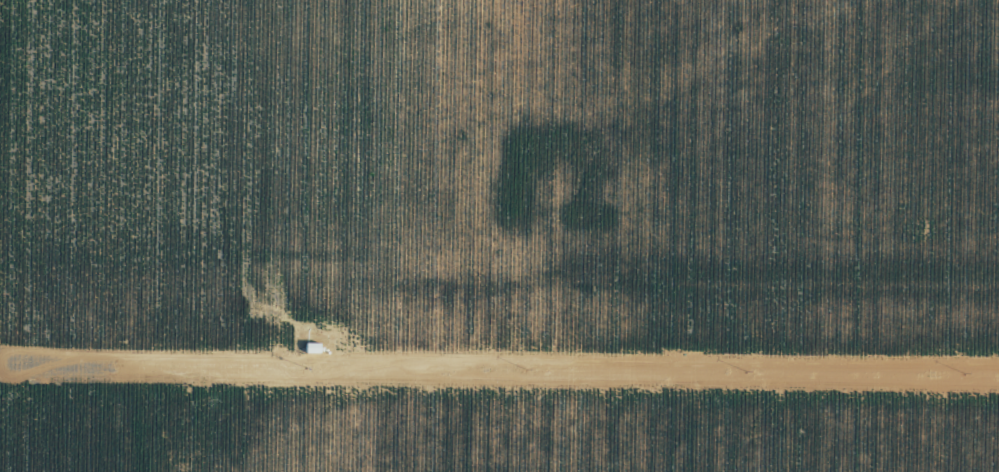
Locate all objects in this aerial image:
road: (562, 280)

